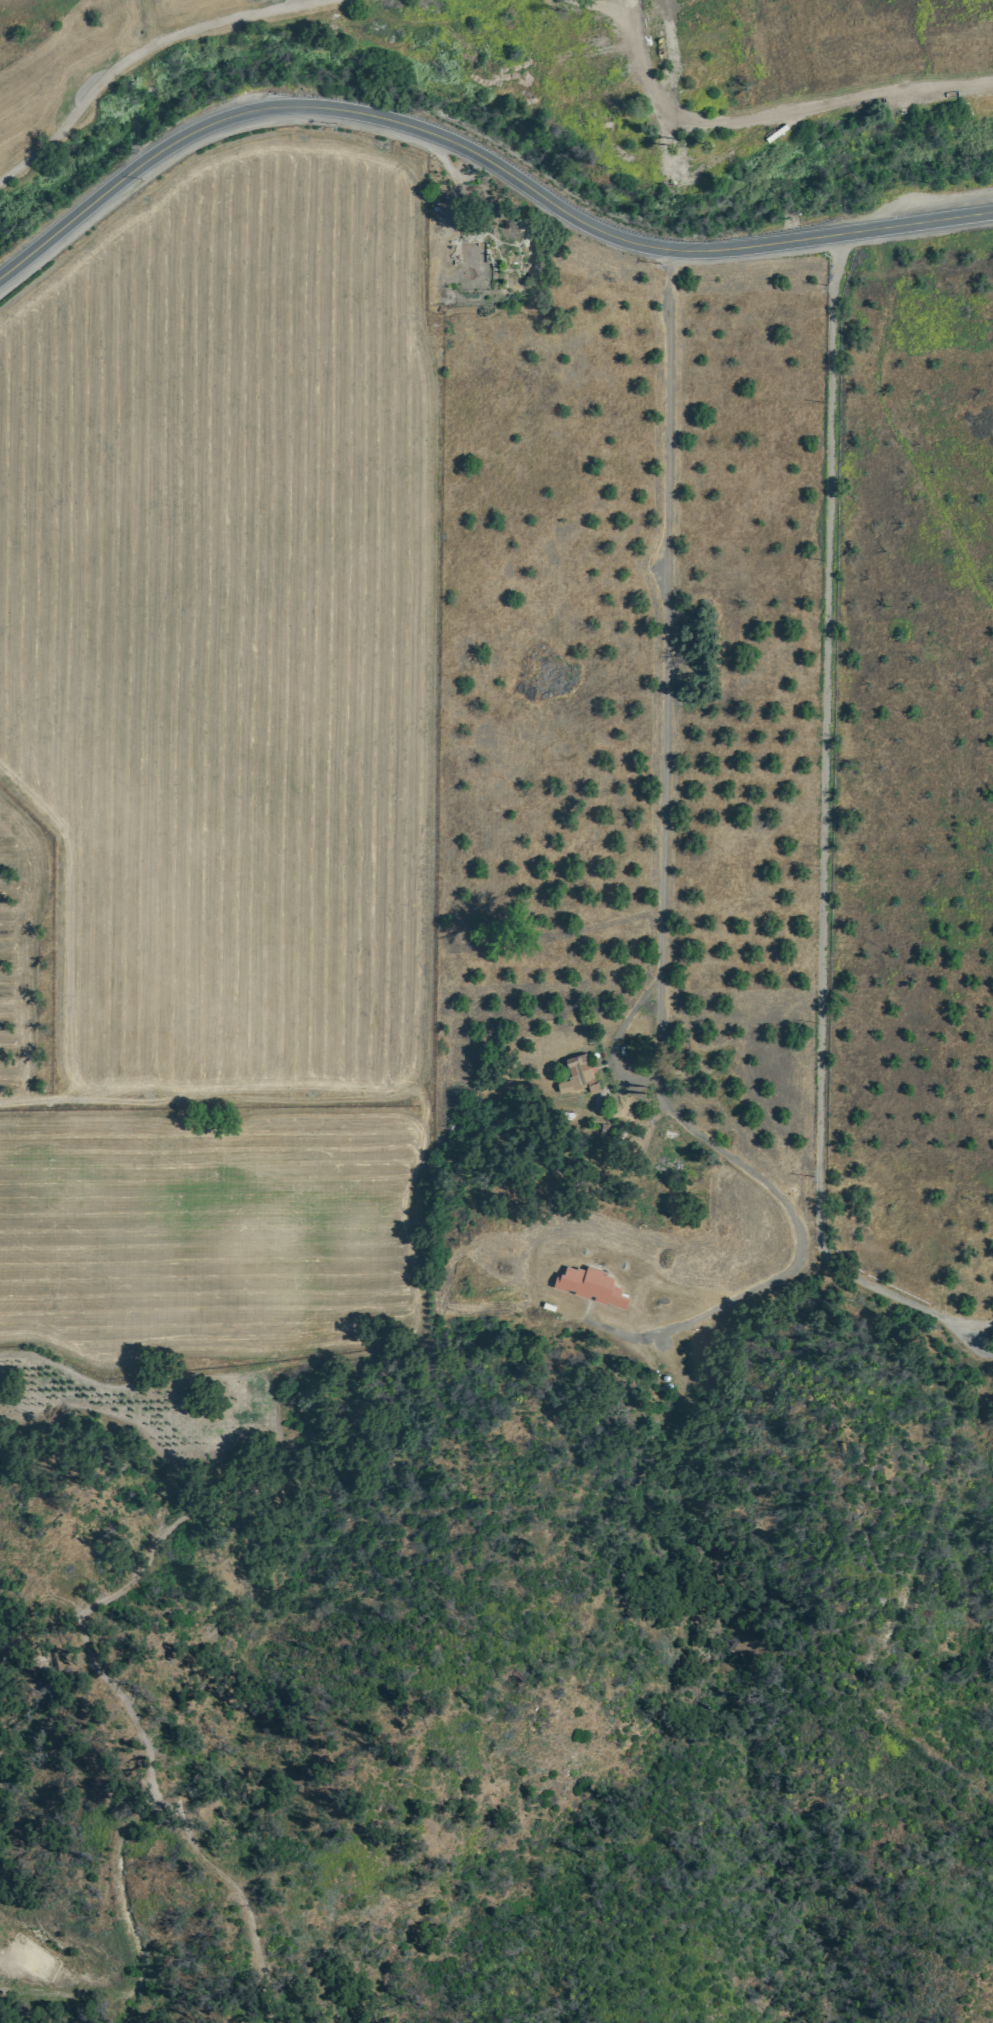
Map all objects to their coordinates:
road: (115, 66)
road: (773, 105)
road: (480, 143)
road: (664, 611)
road: (821, 833)
road: (618, 1028)
building: (582, 1077)
road: (787, 1222)
building: (588, 1285)

